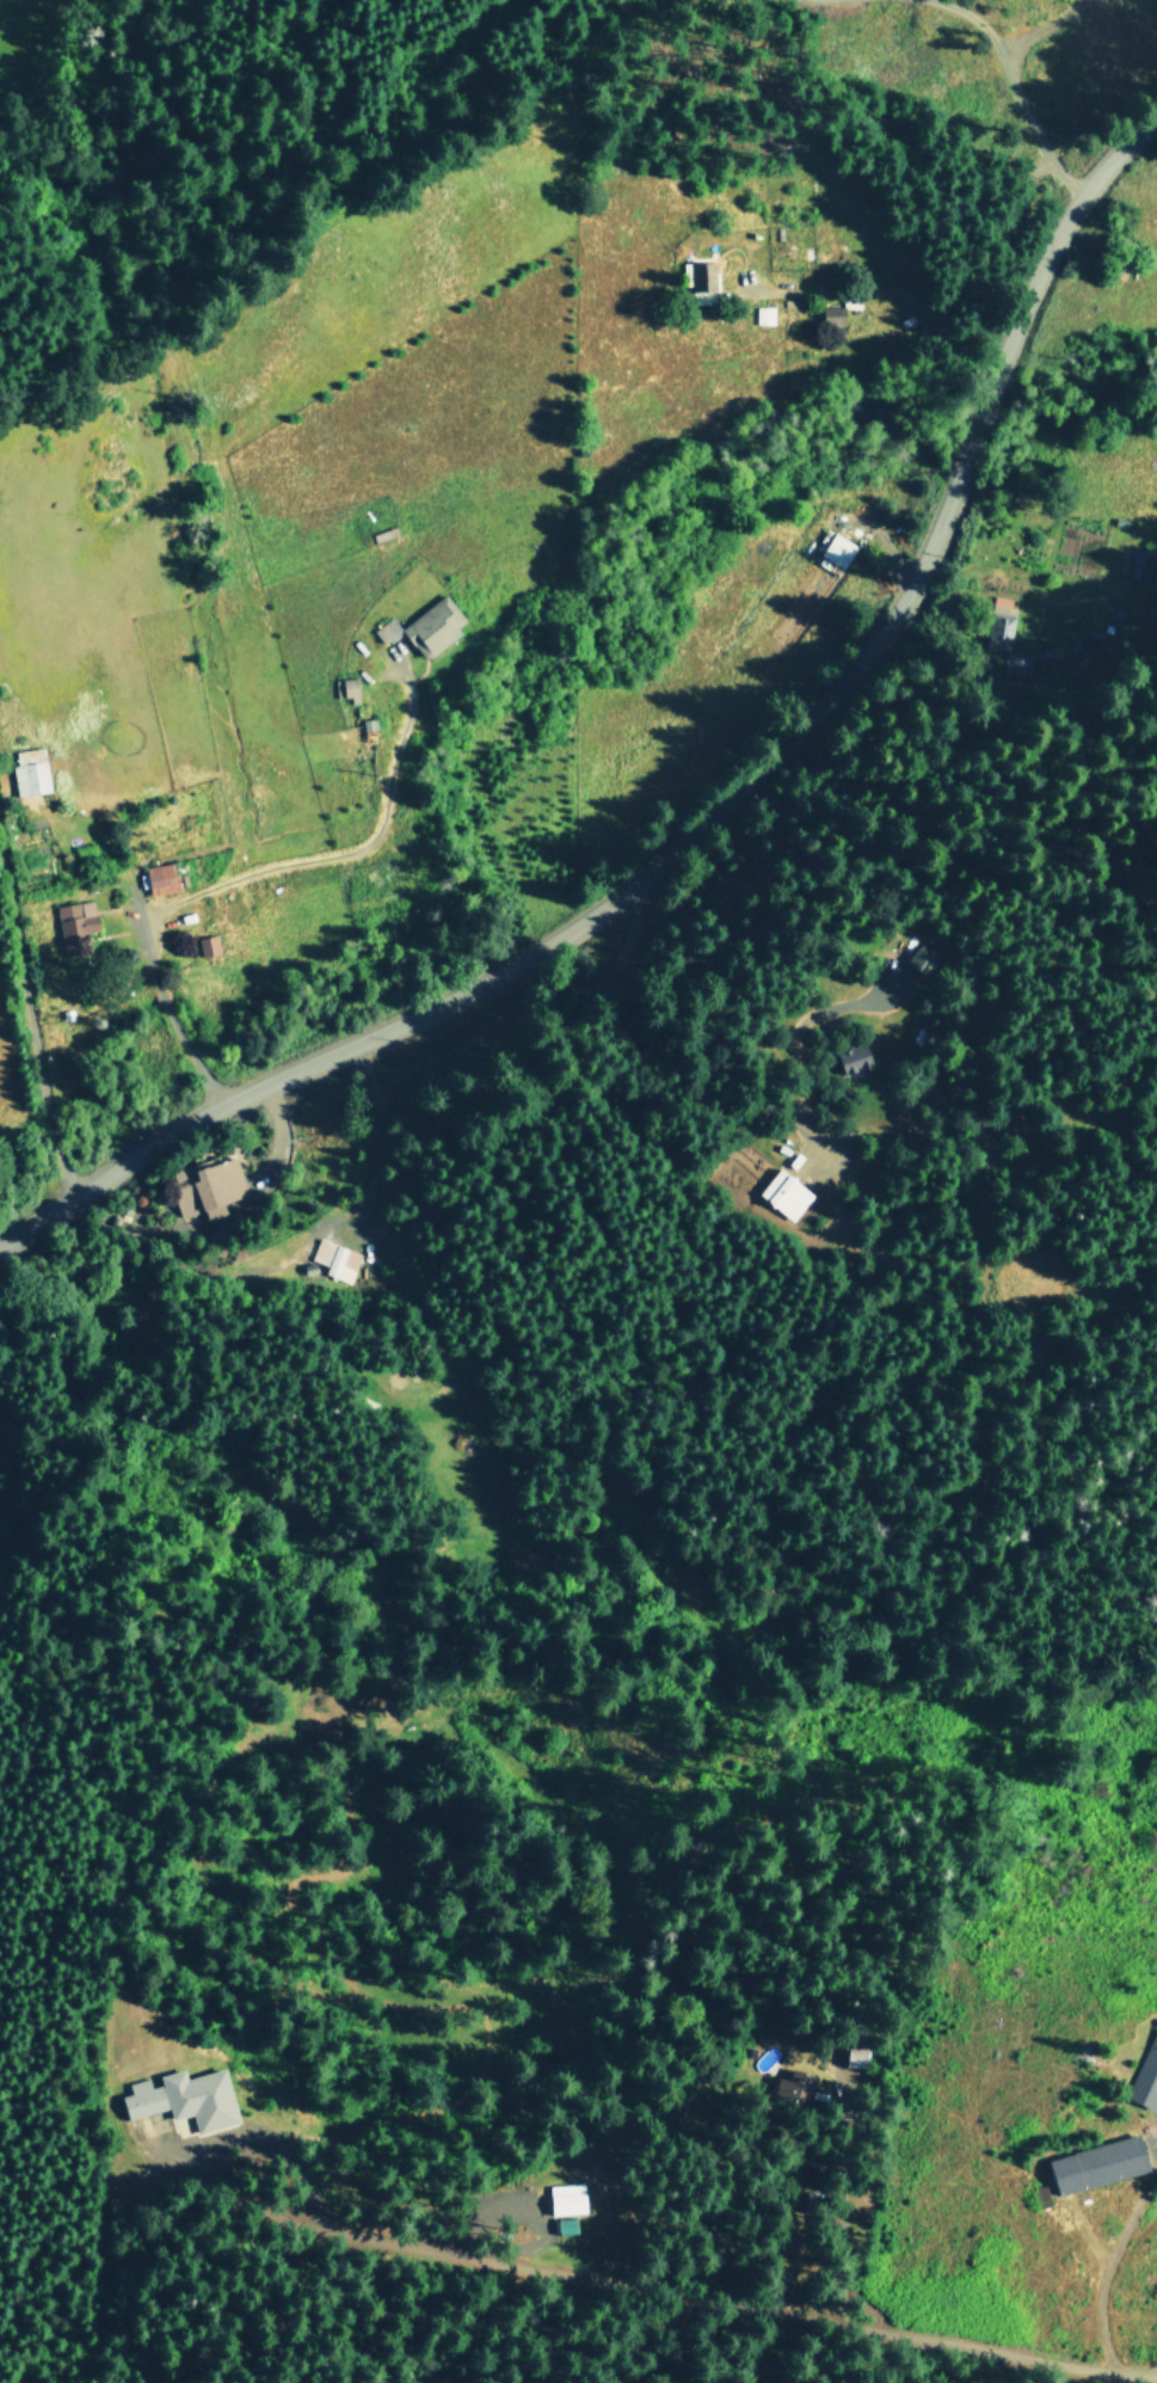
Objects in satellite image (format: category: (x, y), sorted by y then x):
road: (1007, 91)
road: (888, 289)
building: (763, 314)
building: (832, 315)
building: (837, 548)
building: (1139, 563)
building: (1001, 618)
building: (426, 626)
building: (1048, 655)
building: (1017, 663)
building: (346, 688)
building: (30, 770)
road: (715, 816)
road: (251, 873)
building: (161, 878)
building: (75, 925)
building: (208, 945)
building: (921, 960)
road: (31, 1021)
building: (853, 1057)
building: (208, 1185)
building: (784, 1193)
building: (336, 1259)
building: (1146, 2075)
building: (799, 2084)
building: (199, 2096)
building: (143, 2098)
building: (1098, 2163)
building: (562, 2198)
building: (562, 2224)
road: (1093, 2283)

